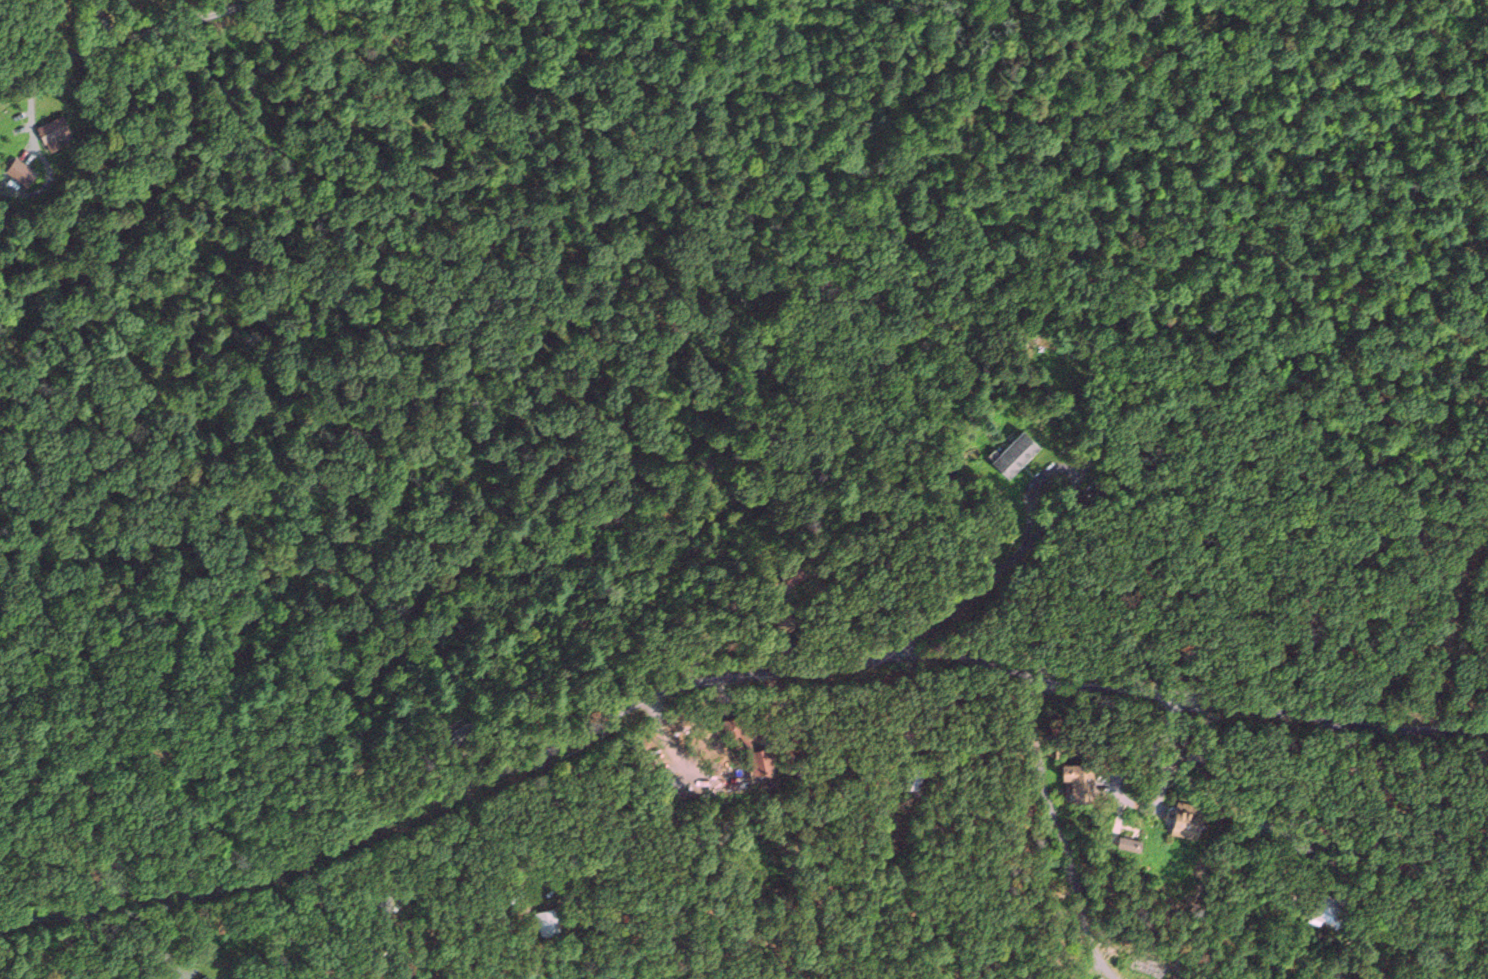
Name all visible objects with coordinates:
road: (103, 21)
road: (127, 39)
building: (54, 134)
building: (19, 171)
building: (1015, 454)
road: (963, 602)
road: (725, 678)
road: (1295, 800)
road: (201, 820)
road: (542, 824)
building: (1184, 826)
road: (1060, 833)
building: (1325, 913)
building: (543, 920)

